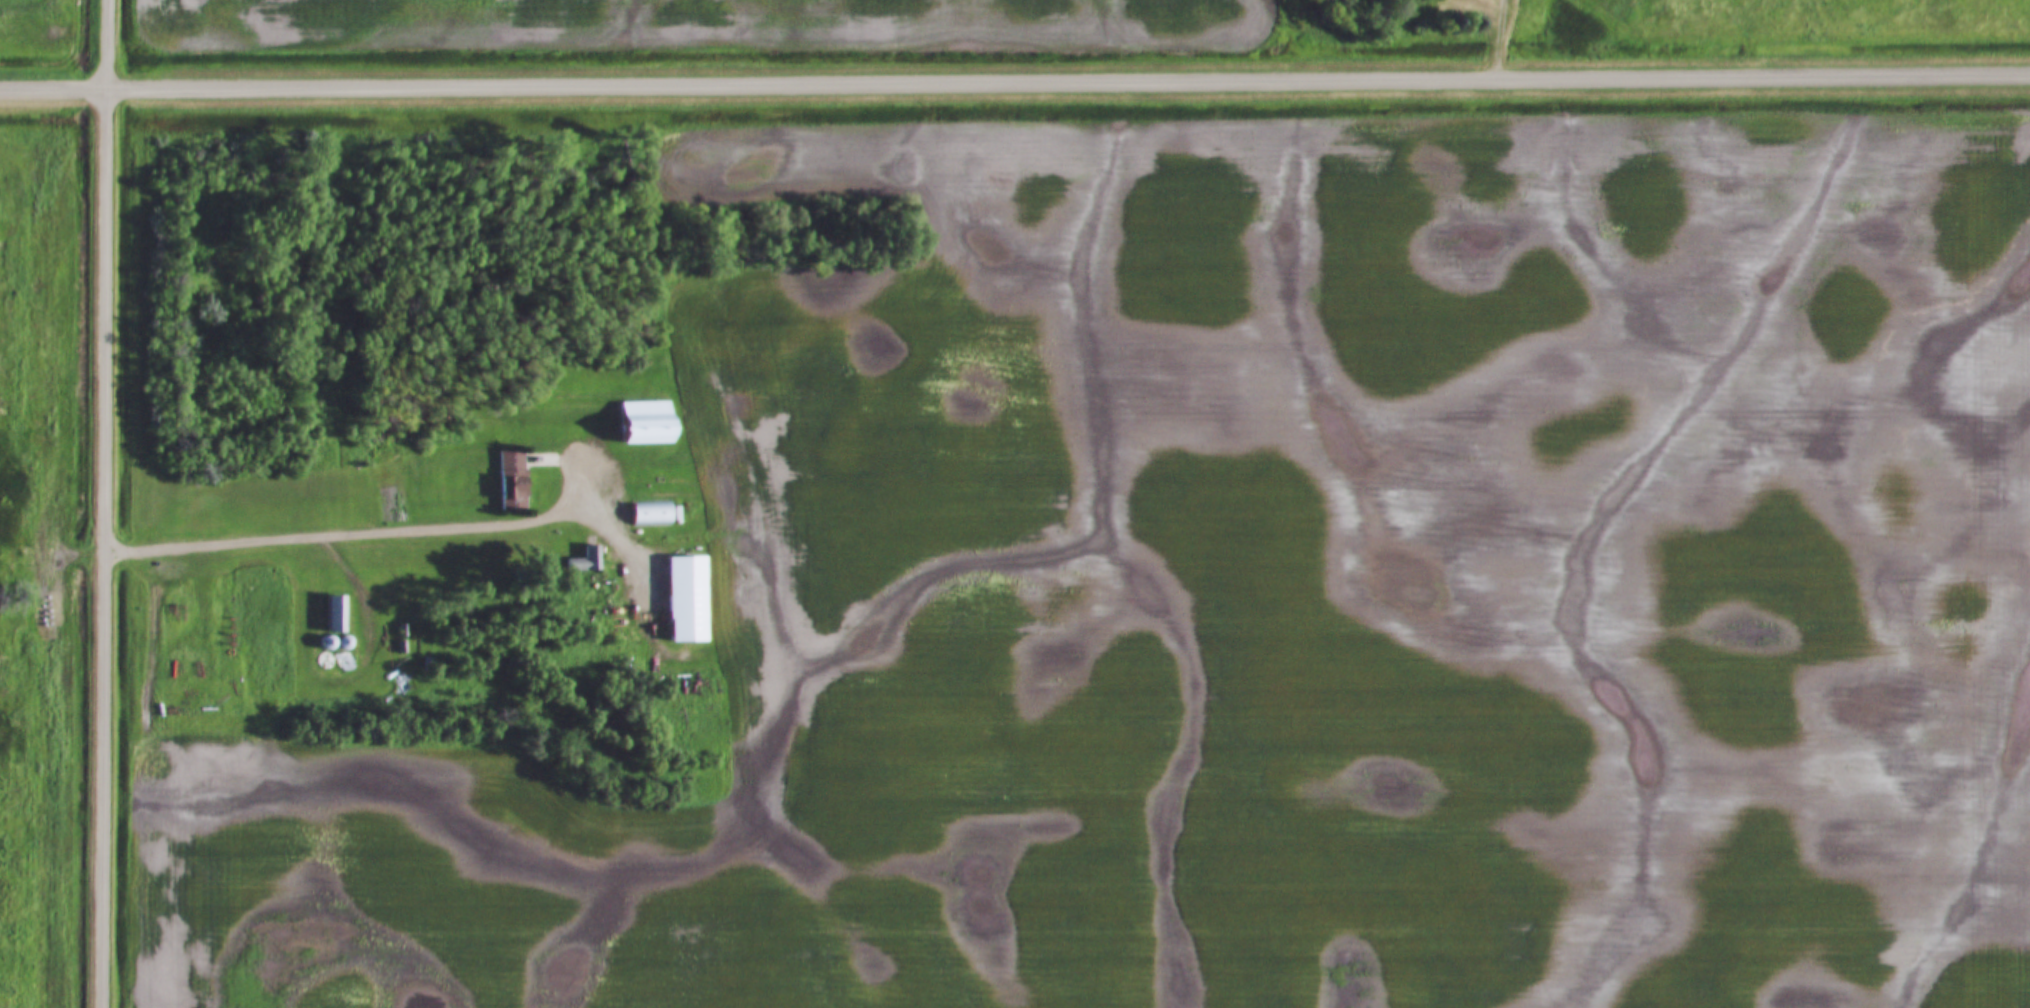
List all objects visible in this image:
road: (1507, 40)
road: (112, 44)
road: (1015, 83)
building: (644, 423)
building: (511, 480)
building: (650, 515)
road: (382, 534)
road: (108, 547)
building: (584, 560)
building: (685, 599)
building: (334, 615)
building: (342, 643)
building: (324, 661)
building: (344, 661)

